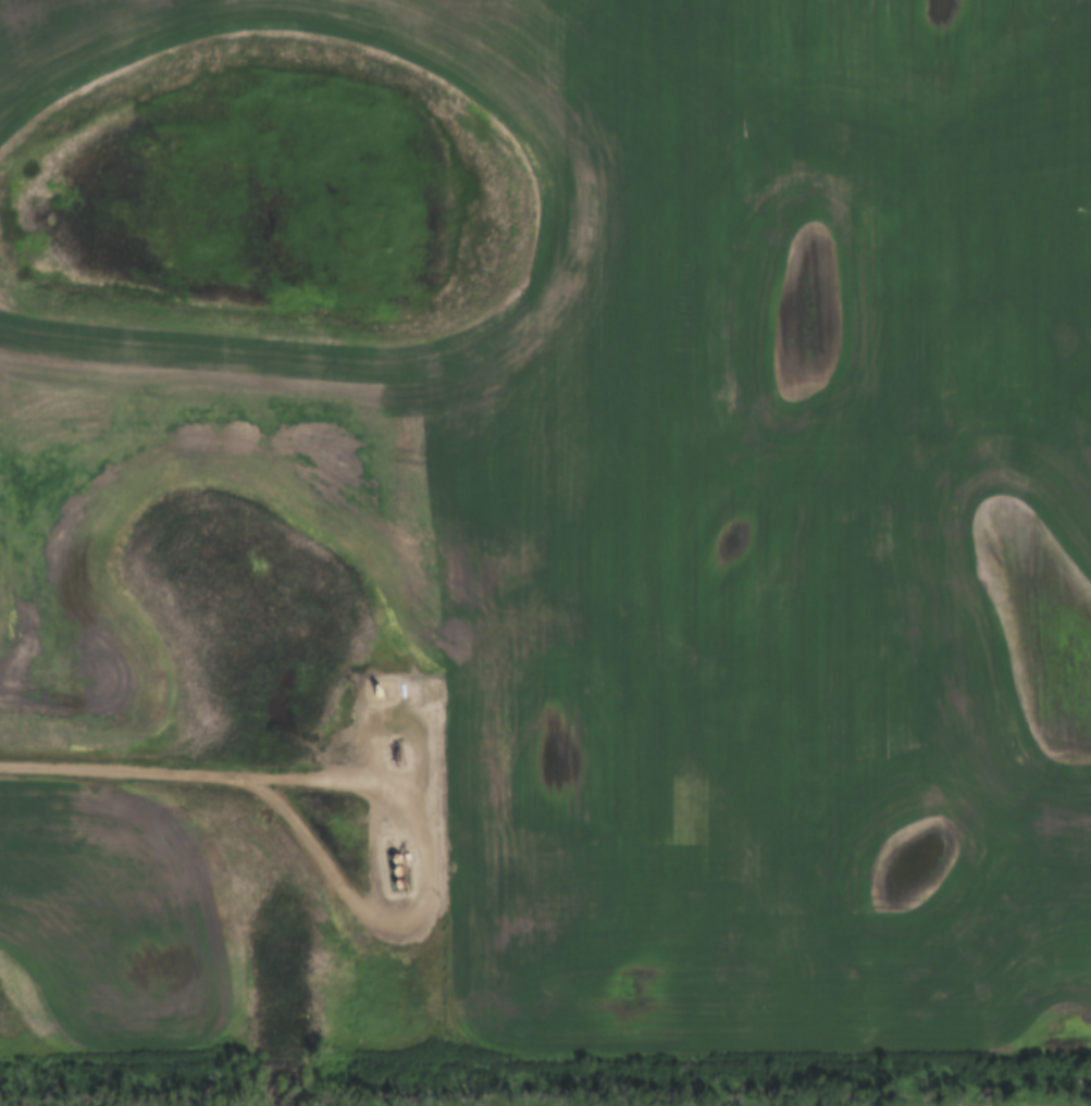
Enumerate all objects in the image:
road: (129, 767)
road: (404, 881)

